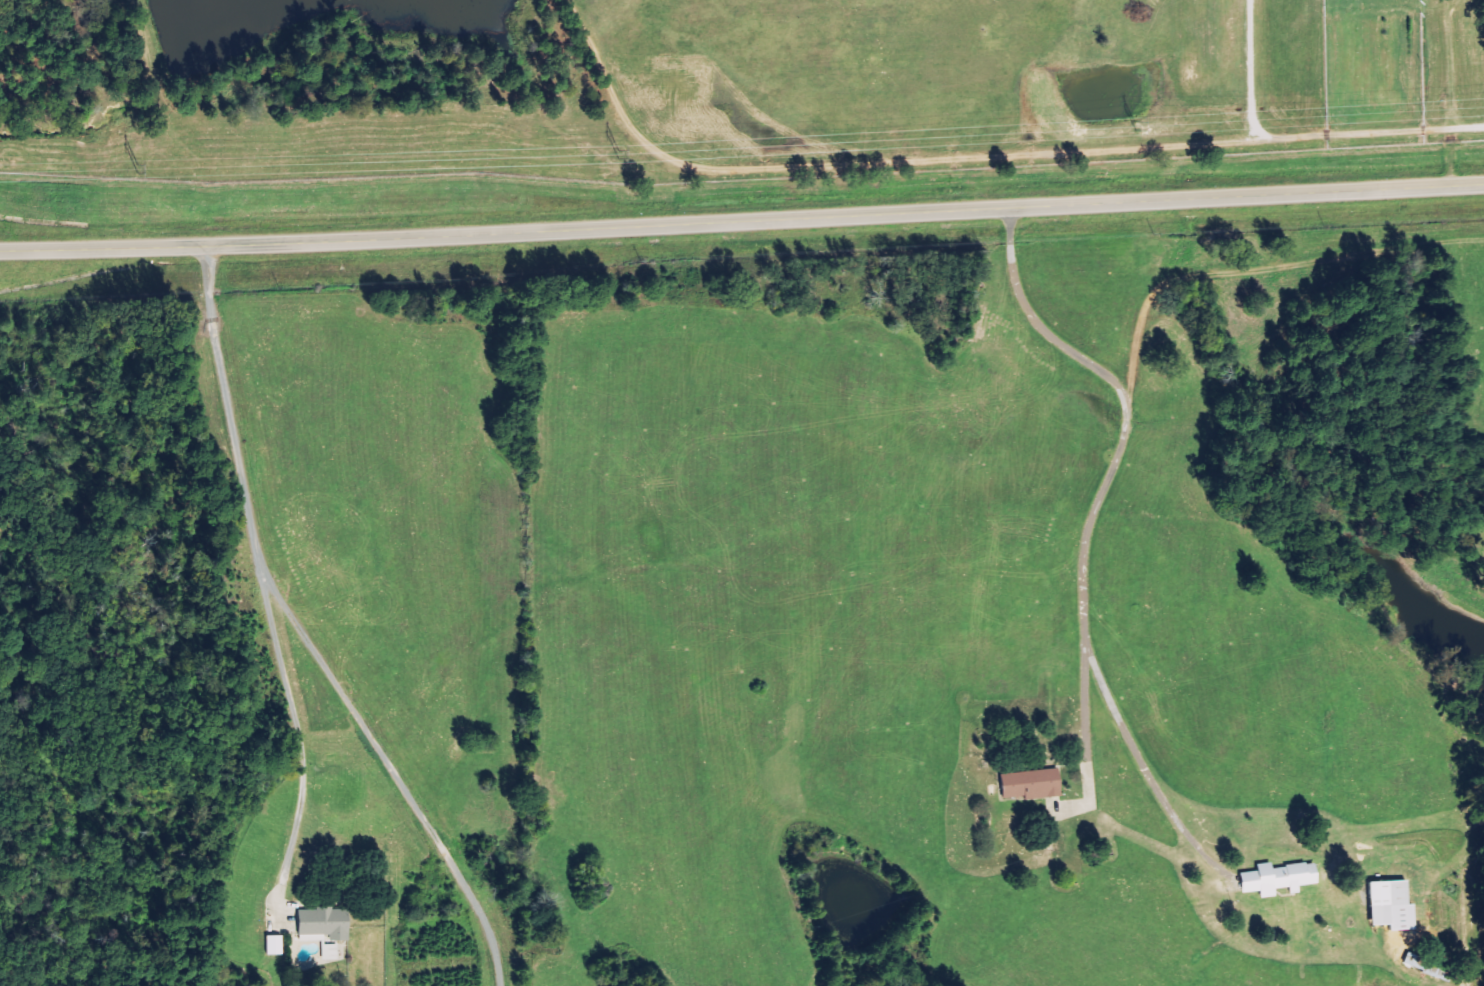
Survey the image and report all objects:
power tower: (1133, 130)
power tower: (619, 155)
power tower: (137, 172)
road: (742, 222)
road: (1084, 534)
road: (302, 634)
road: (298, 737)
road: (1084, 738)
building: (1027, 784)
building: (1273, 879)
building: (1385, 906)
building: (324, 923)
building: (274, 943)

